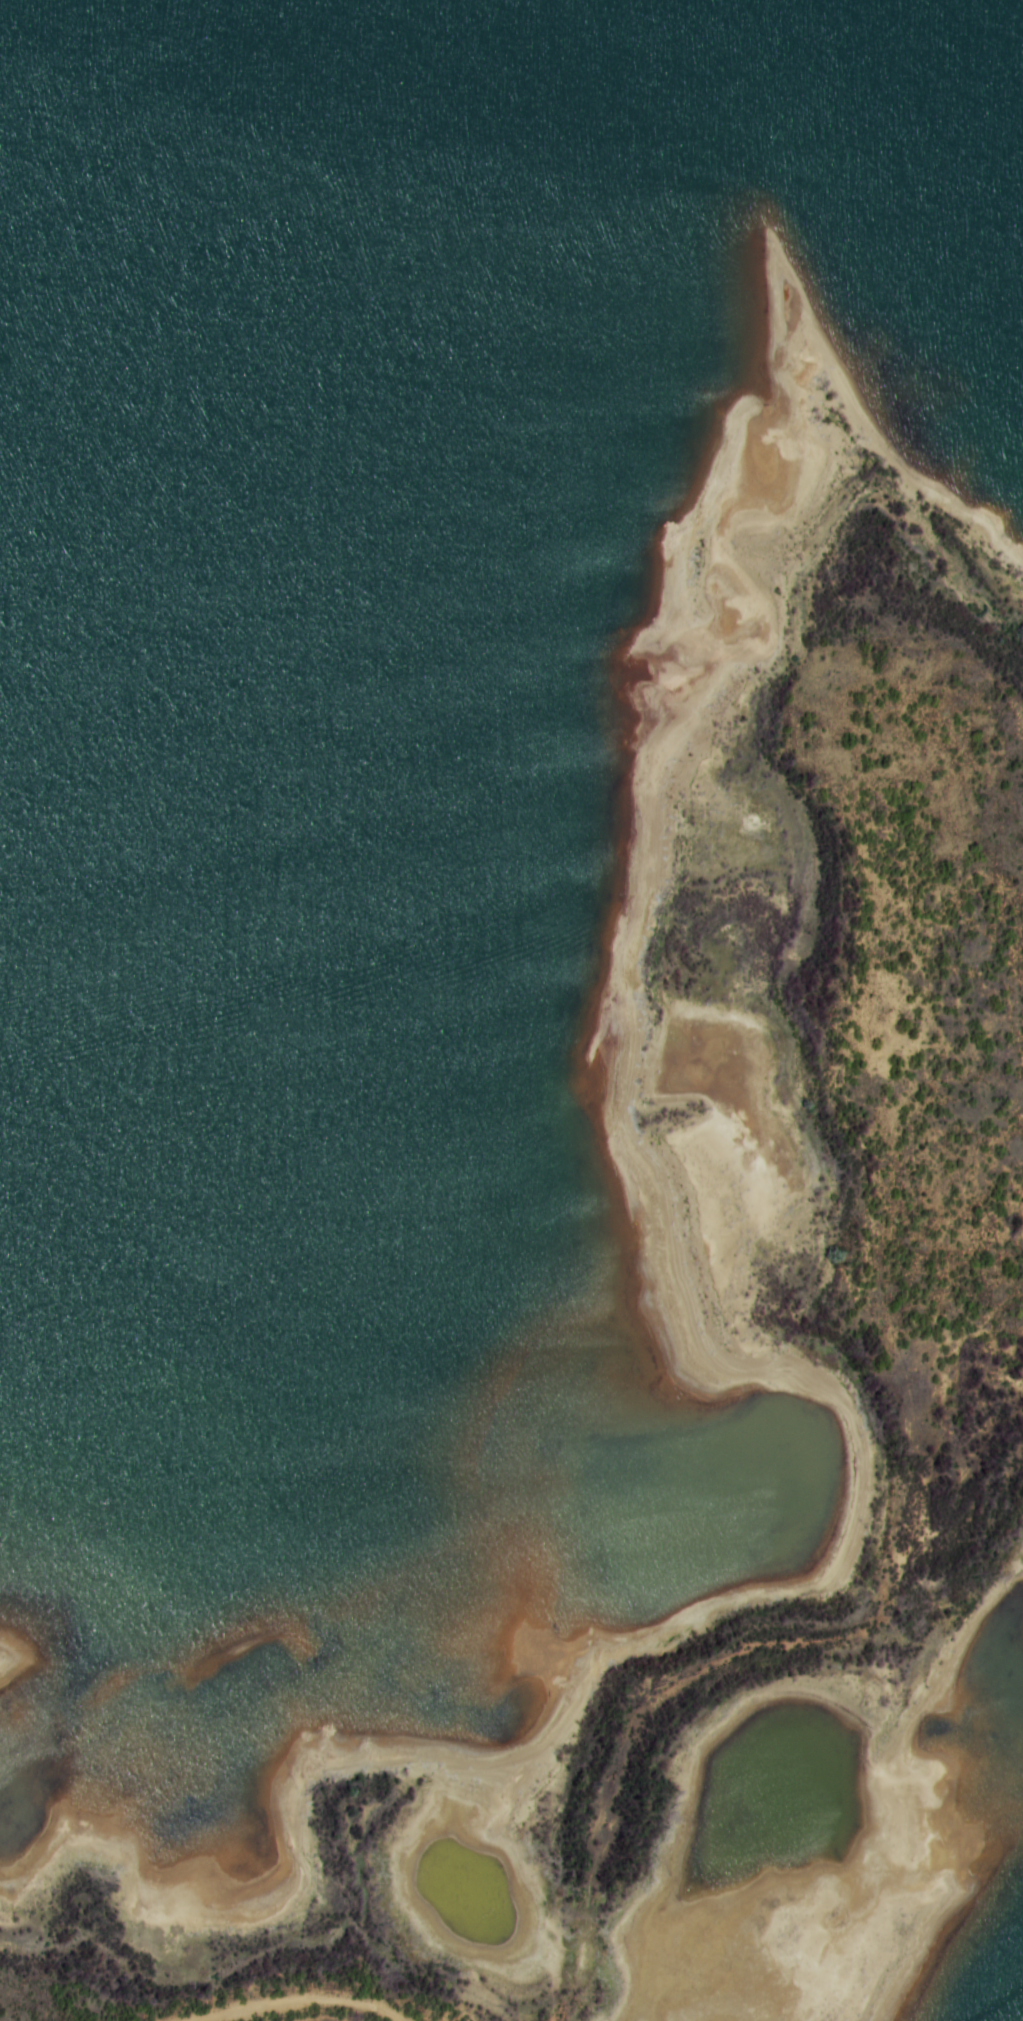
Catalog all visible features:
road: (305, 1996)

